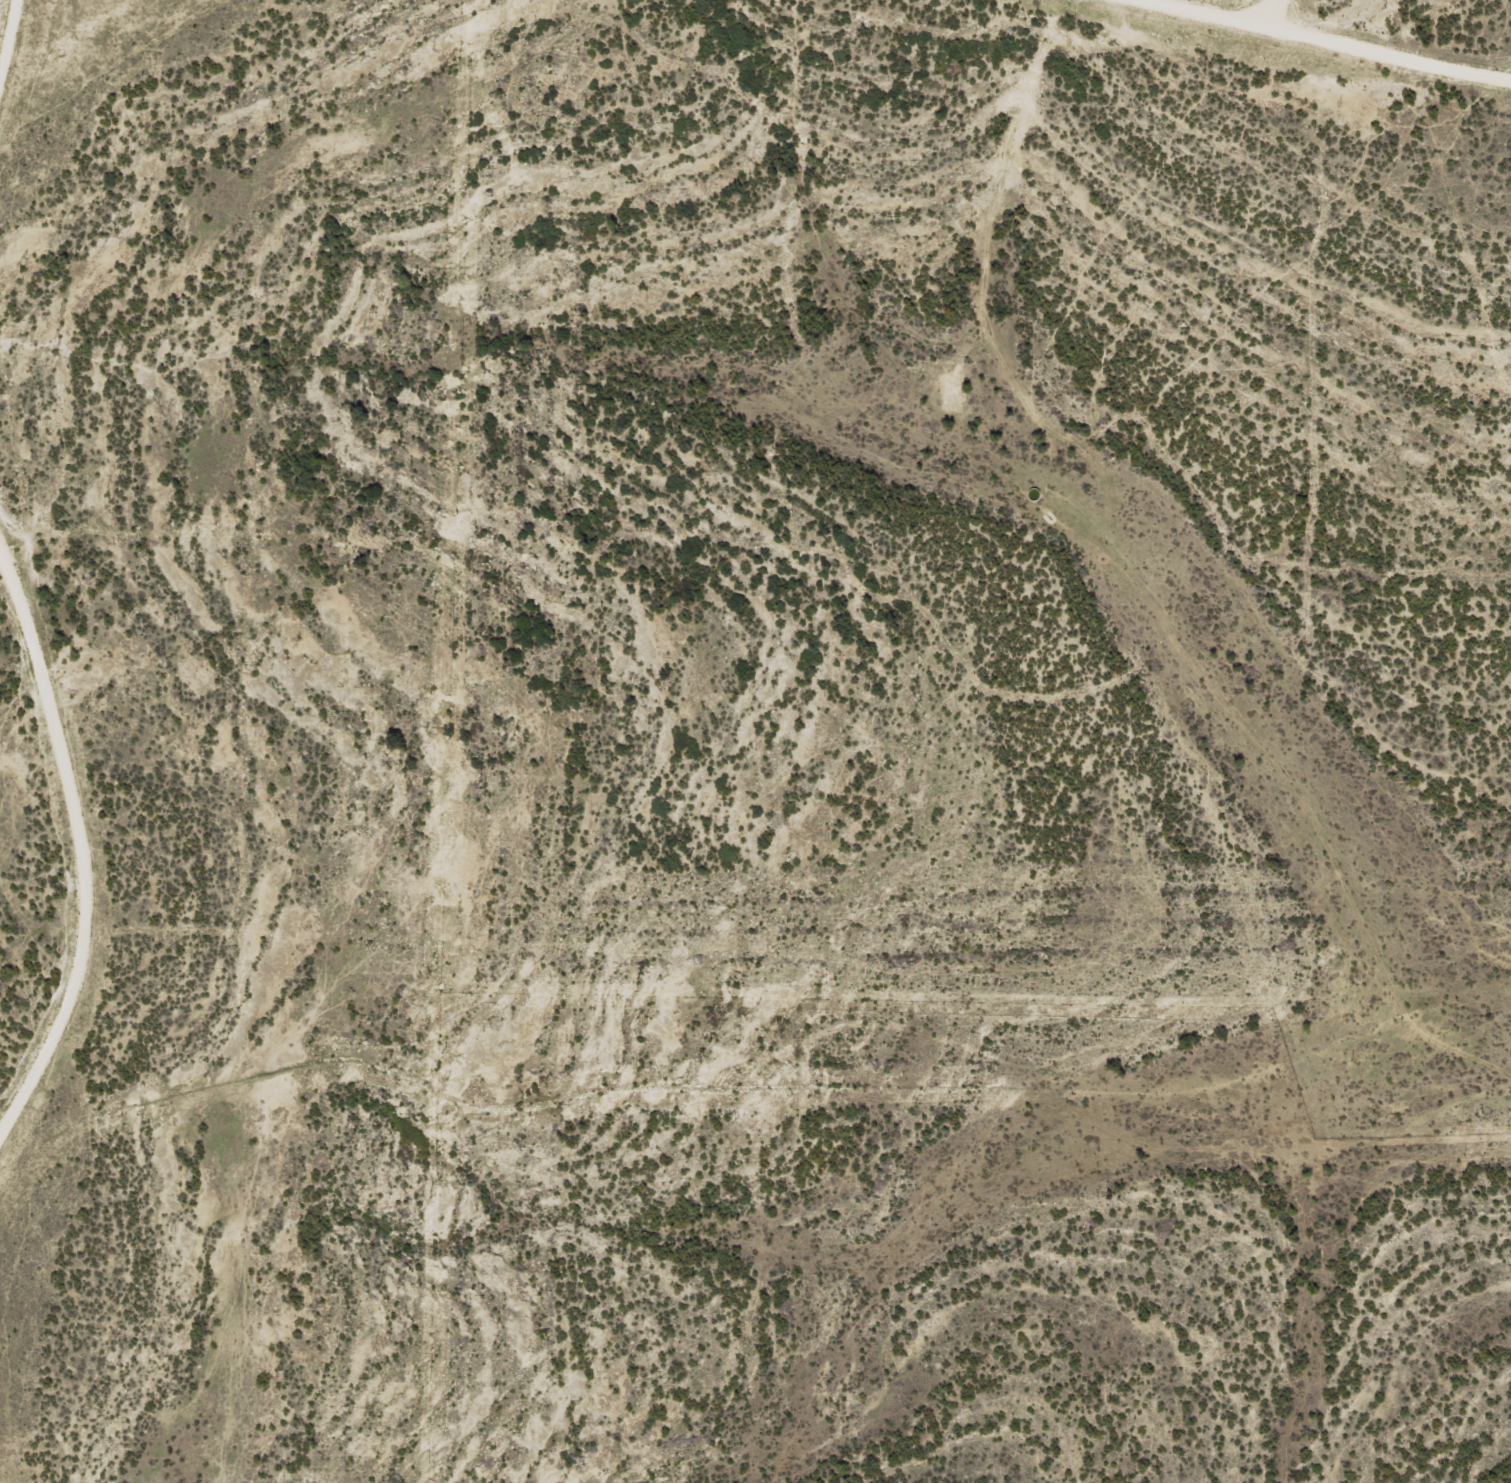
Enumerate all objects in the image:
road: (12, 42)
road: (1315, 43)
road: (79, 847)

